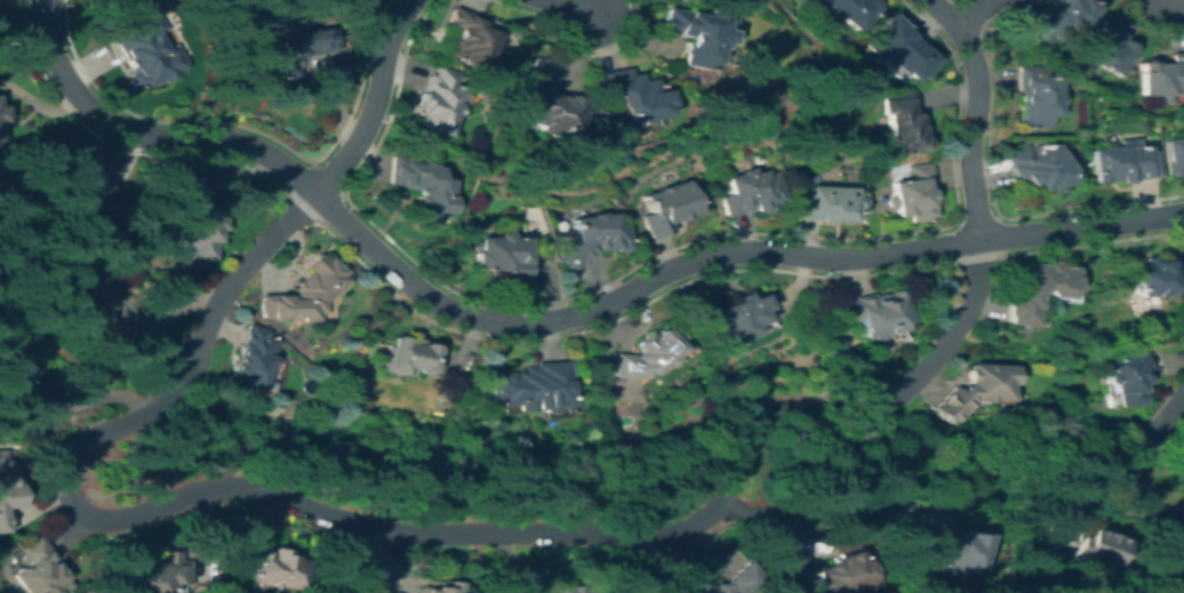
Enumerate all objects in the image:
building: (658, 0)
building: (669, 0)
road: (569, 5)
building: (845, 11)
road: (971, 14)
building: (1054, 18)
building: (688, 35)
building: (468, 40)
building: (892, 44)
building: (1106, 48)
building: (292, 49)
building: (148, 54)
building: (1161, 77)
building: (628, 96)
building: (1033, 97)
building: (437, 101)
building: (544, 102)
road: (375, 103)
road: (973, 113)
building: (1, 114)
building: (898, 121)
building: (1173, 155)
building: (1120, 162)
building: (1040, 167)
building: (420, 185)
building: (82, 188)
building: (749, 192)
building: (913, 193)
building: (829, 203)
building: (665, 208)
building: (193, 220)
building: (593, 239)
building: (504, 258)
building: (1148, 276)
building: (1035, 289)
building: (304, 292)
building: (88, 296)
building: (740, 313)
building: (877, 313)
road: (549, 324)
building: (644, 354)
building: (251, 357)
building: (409, 357)
building: (13, 370)
building: (1130, 379)
building: (532, 388)
building: (974, 389)
road: (903, 390)
road: (36, 435)
road: (1142, 462)
road: (737, 466)
building: (6, 492)
road: (195, 495)
road: (819, 505)
building: (1087, 544)
building: (955, 549)
building: (270, 567)
building: (36, 568)
building: (151, 570)
building: (832, 573)
building: (723, 582)
building: (438, 587)
building: (574, 588)

